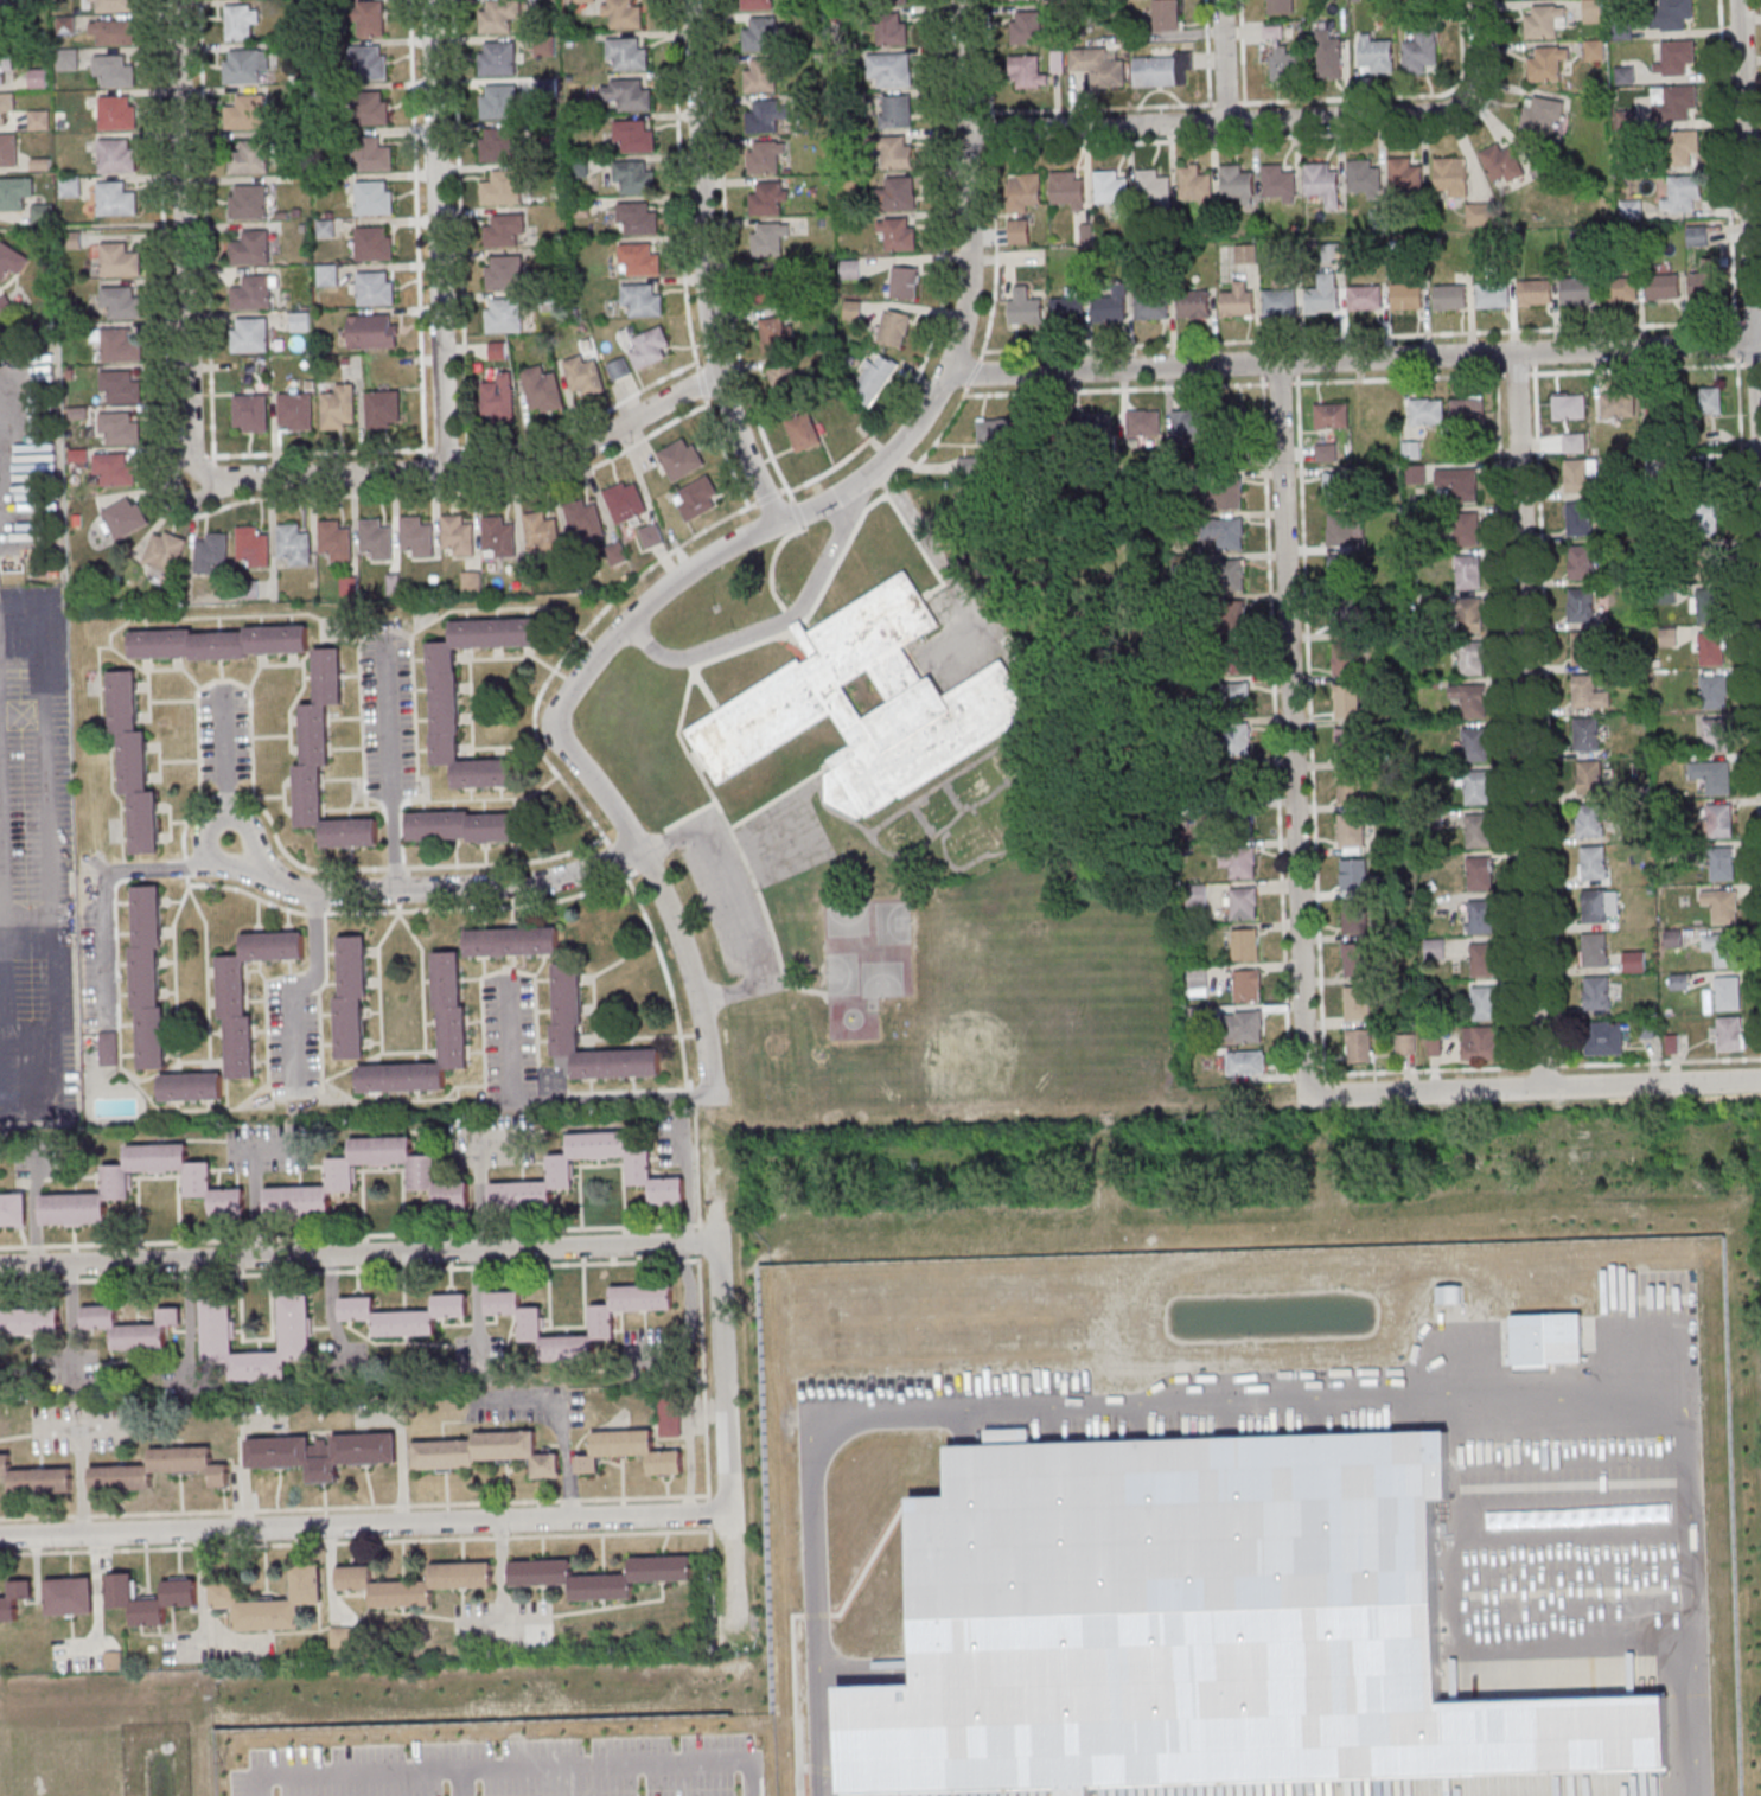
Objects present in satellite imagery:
building: (580, 0)
building: (1020, 0)
building: (755, 4)
building: (111, 6)
building: (1278, 7)
building: (1593, 11)
building: (1671, 13)
building: (623, 14)
building: (496, 15)
building: (1165, 15)
building: (370, 19)
building: (1542, 23)
building: (240, 24)
building: (887, 26)
building: (1027, 28)
building: (113, 32)
building: (759, 33)
building: (542, 44)
building: (1594, 50)
road: (1240, 51)
building: (624, 52)
road: (1206, 52)
building: (1422, 52)
building: (1329, 57)
building: (1376, 57)
building: (1676, 57)
building: (497, 58)
building: (68, 59)
road: (1224, 59)
building: (5, 62)
building: (365, 62)
building: (1293, 64)
building: (1545, 65)
building: (240, 66)
building: (1098, 66)
building: (887, 68)
building: (111, 69)
building: (1163, 69)
building: (1027, 72)
building: (760, 75)
building: (625, 94)
road: (1393, 97)
building: (5, 102)
building: (497, 102)
building: (1674, 102)
building: (366, 107)
road: (1115, 108)
building: (114, 111)
building: (243, 111)
building: (897, 113)
building: (761, 115)
building: (1543, 115)
road: (1266, 119)
building: (39, 120)
building: (631, 135)
road: (1294, 135)
building: (497, 145)
building: (1682, 147)
building: (7, 149)
building: (366, 153)
building: (897, 153)
building: (114, 155)
building: (763, 155)
building: (247, 156)
road: (1747, 162)
building: (1502, 164)
building: (579, 167)
building: (631, 175)
building: (1404, 175)
building: (1451, 177)
building: (1361, 178)
road: (991, 180)
building: (1234, 181)
building: (1276, 181)
building: (1320, 181)
road: (679, 184)
building: (1193, 184)
building: (499, 186)
building: (1151, 187)
building: (1065, 188)
building: (1110, 190)
building: (14, 191)
building: (1023, 192)
building: (899, 194)
building: (1683, 196)
building: (370, 197)
building: (766, 198)
building: (113, 199)
building: (245, 202)
building: (1631, 211)
building: (1479, 213)
building: (634, 217)
road: (415, 228)
road: (459, 228)
building: (500, 229)
building: (325, 230)
building: (1019, 231)
road: (180, 235)
building: (899, 235)
road: (434, 236)
building: (1697, 236)
road: (204, 238)
building: (766, 238)
building: (370, 242)
building: (248, 247)
building: (1246, 253)
building: (637, 257)
building: (116, 258)
building: (9, 260)
road: (703, 266)
road: (943, 271)
building: (502, 273)
building: (327, 276)
building: (904, 282)
building: (1703, 283)
building: (771, 286)
building: (1660, 286)
building: (371, 287)
building: (1618, 288)
building: (1574, 289)
building: (1532, 292)
building: (249, 293)
building: (1489, 294)
building: (1404, 295)
building: (1319, 298)
building: (1363, 298)
building: (1448, 298)
building: (639, 299)
building: (1277, 301)
building: (119, 302)
road: (964, 302)
building: (1194, 303)
building: (1112, 306)
building: (1151, 306)
building: (1025, 307)
building: (1067, 311)
building: (502, 314)
road: (1748, 314)
road: (733, 325)
road: (1757, 326)
building: (894, 327)
building: (372, 331)
building: (247, 334)
building: (774, 334)
road: (1755, 334)
road: (1359, 335)
road: (1295, 344)
building: (117, 345)
building: (646, 345)
building: (497, 350)
road: (1350, 358)
road: (1296, 362)
road: (974, 372)
building: (583, 377)
building: (784, 379)
building: (874, 379)
road: (1364, 379)
road: (698, 383)
building: (117, 385)
building: (542, 390)
road: (0, 397)
building: (498, 398)
building: (1709, 400)
road: (1757, 400)
building: (1661, 403)
building: (1569, 404)
building: (1618, 404)
building: (336, 405)
building: (379, 407)
building: (293, 409)
building: (1467, 409)
building: (1427, 410)
building: (248, 411)
building: (1334, 416)
building: (1227, 418)
building: (1186, 421)
building: (1141, 422)
road: (581, 423)
building: (1091, 424)
building: (116, 427)
building: (1040, 428)
road: (1740, 429)
building: (804, 432)
building: (995, 432)
road: (445, 447)
building: (1412, 449)
road: (318, 452)
road: (723, 452)
road: (925, 453)
road: (197, 456)
building: (681, 458)
building: (969, 465)
building: (111, 468)
road: (465, 471)
building: (1417, 474)
building: (1581, 477)
building: (1459, 482)
building: (1333, 487)
road: (784, 488)
building: (1226, 494)
road: (767, 496)
building: (696, 497)
building: (625, 503)
road: (189, 516)
building: (125, 517)
building: (580, 518)
building: (1580, 518)
building: (1706, 519)
building: (1467, 529)
building: (538, 530)
building: (1342, 531)
building: (453, 533)
building: (1229, 533)
building: (413, 535)
building: (496, 535)
building: (651, 535)
building: (372, 537)
building: (331, 538)
building: (291, 543)
building: (249, 545)
building: (165, 551)
building: (209, 551)
road: (934, 555)
building: (1581, 561)
road: (835, 565)
building: (1345, 571)
building: (1469, 573)
building: (1231, 574)
building: (1580, 603)
building: (1710, 603)
building: (1470, 614)
building: (1233, 618)
building: (1346, 619)
road: (796, 624)
road: (770, 625)
building: (219, 643)
road: (572, 645)
building: (1583, 647)
building: (1711, 648)
building: (1472, 657)
building: (1346, 659)
building: (1236, 661)
building: (795, 690)
building: (1714, 691)
building: (1588, 692)
building: (1236, 697)
building: (1470, 698)
building: (1347, 702)
building: (445, 703)
road: (1274, 718)
road: (1530, 718)
road: (1295, 724)
road: (1309, 724)
building: (1587, 734)
building: (1719, 734)
building: (1237, 739)
building: (1475, 743)
building: (1348, 744)
building: (325, 761)
building: (133, 762)
building: (1007, 765)
road: (389, 767)
road: (582, 768)
road: (226, 769)
building: (1589, 778)
building: (1719, 778)
building: (1475, 786)
building: (970, 787)
building: (1350, 787)
road: (712, 795)
building: (937, 807)
road: (270, 818)
building: (1233, 818)
building: (1722, 818)
building: (1589, 822)
building: (465, 826)
building: (904, 829)
building: (1479, 829)
building: (1352, 833)
building: (983, 839)
road: (47, 858)
road: (619, 858)
building: (1239, 862)
road: (506, 863)
building: (1594, 863)
building: (1722, 863)
road: (185, 867)
road: (396, 867)
building: (1480, 873)
building: (1354, 875)
road: (187, 880)
road: (104, 884)
road: (427, 887)
building: (1198, 895)
road: (323, 900)
road: (397, 900)
building: (1243, 903)
building: (1601, 905)
building: (1722, 905)
road: (732, 907)
road: (407, 909)
building: (1480, 915)
building: (1353, 918)
building: (512, 941)
building: (1245, 944)
park: (868, 947)
building: (1434, 947)
building: (1721, 947)
road: (0, 948)
building: (1595, 950)
building: (1484, 959)
building: (1355, 960)
building: (1633, 960)
park: (948, 969)
road: (206, 971)
road: (487, 974)
building: (148, 977)
road: (666, 977)
road: (378, 978)
road: (421, 978)
road: (304, 984)
building: (1248, 985)
building: (249, 992)
building: (1597, 992)
building: (1728, 992)
road: (1, 996)
building: (351, 997)
building: (1484, 1002)
building: (1358, 1003)
building: (451, 1006)
building: (568, 1006)
building: (1246, 1027)
building: (1730, 1033)
building: (1604, 1037)
building: (1480, 1042)
building: (1406, 1043)
building: (1359, 1046)
road: (1, 1048)
building: (108, 1049)
road: (376, 1054)
road: (200, 1061)
building: (1245, 1065)
road: (1539, 1066)
road: (1303, 1075)
road: (141, 1079)
road: (325, 1081)
road: (262, 1085)
building: (191, 1086)
road: (1537, 1086)
road: (694, 1088)
road: (631, 1089)
road: (694, 1097)
road: (544, 1102)
building: (639, 1168)
building: (423, 1172)
road: (697, 1172)
building: (199, 1180)
road: (254, 1183)
building: (13, 1209)
road: (352, 1235)
road: (359, 1253)
road: (468, 1266)
building: (404, 1315)
building: (30, 1323)
building: (217, 1324)
building: (604, 1325)
building: (132, 1329)
road: (1259, 1405)
building: (669, 1413)
road: (98, 1424)
road: (58, 1426)
road: (725, 1440)
building: (630, 1451)
building: (321, 1452)
building: (486, 1452)
building: (160, 1469)
building: (36, 1477)
road: (79, 1479)
road: (353, 1506)
road: (709, 1513)
road: (364, 1523)
road: (710, 1539)
road: (355, 1541)
building: (601, 1576)
building: (415, 1583)
building: (70, 1596)
building: (14, 1599)
building: (152, 1602)
building: (272, 1602)
building: (1195, 1625)
road: (1594, 1635)
building: (340, 1637)
building: (88, 1661)
parking lot: (508, 1768)
road: (503, 1771)
road: (747, 1779)
road: (462, 1784)
road: (259, 1787)

